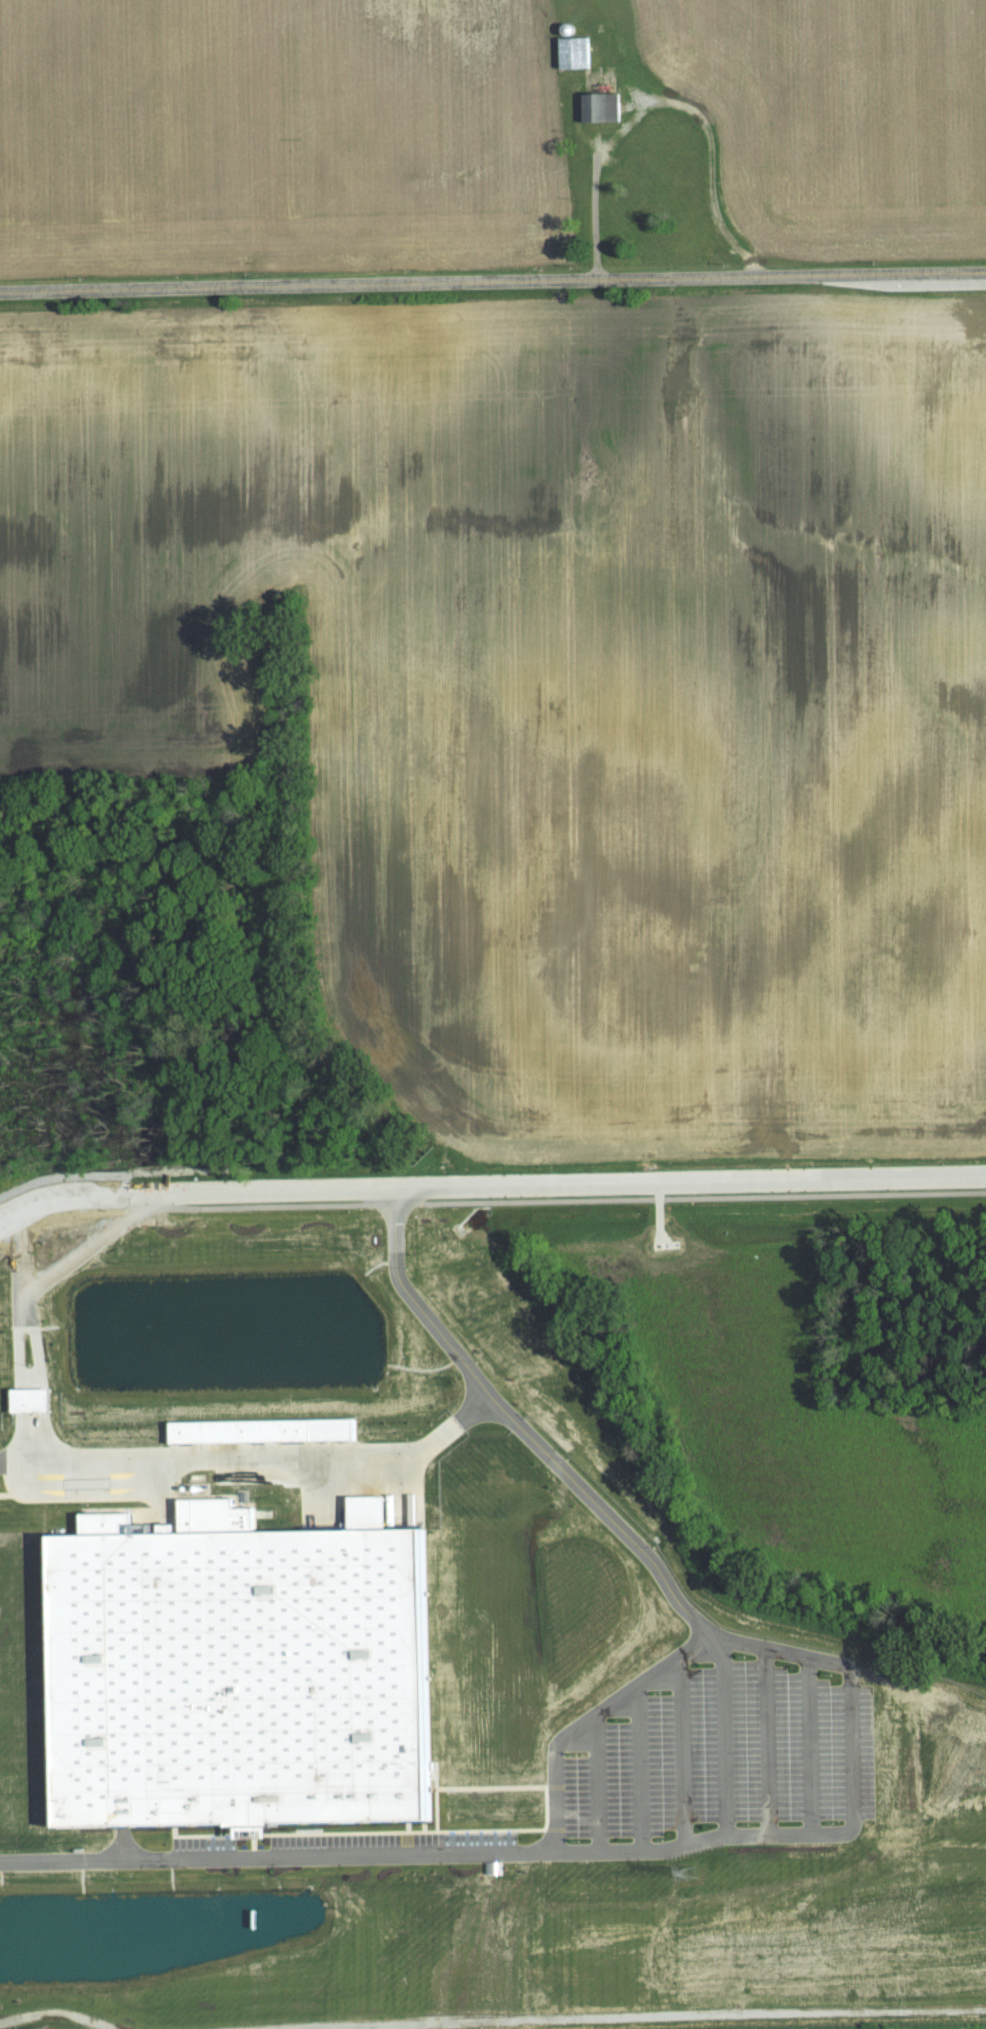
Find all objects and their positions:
building: (571, 52)
road: (665, 102)
road: (493, 282)
road: (720, 1182)
road: (438, 1184)
road: (297, 1186)
building: (23, 1398)
road: (520, 1425)
building: (285, 1429)
road: (95, 1464)
road: (16, 1465)
building: (237, 1671)
road: (591, 1722)
parking lot: (725, 1755)
road: (491, 1787)
road: (576, 1850)
power tower: (691, 1871)

